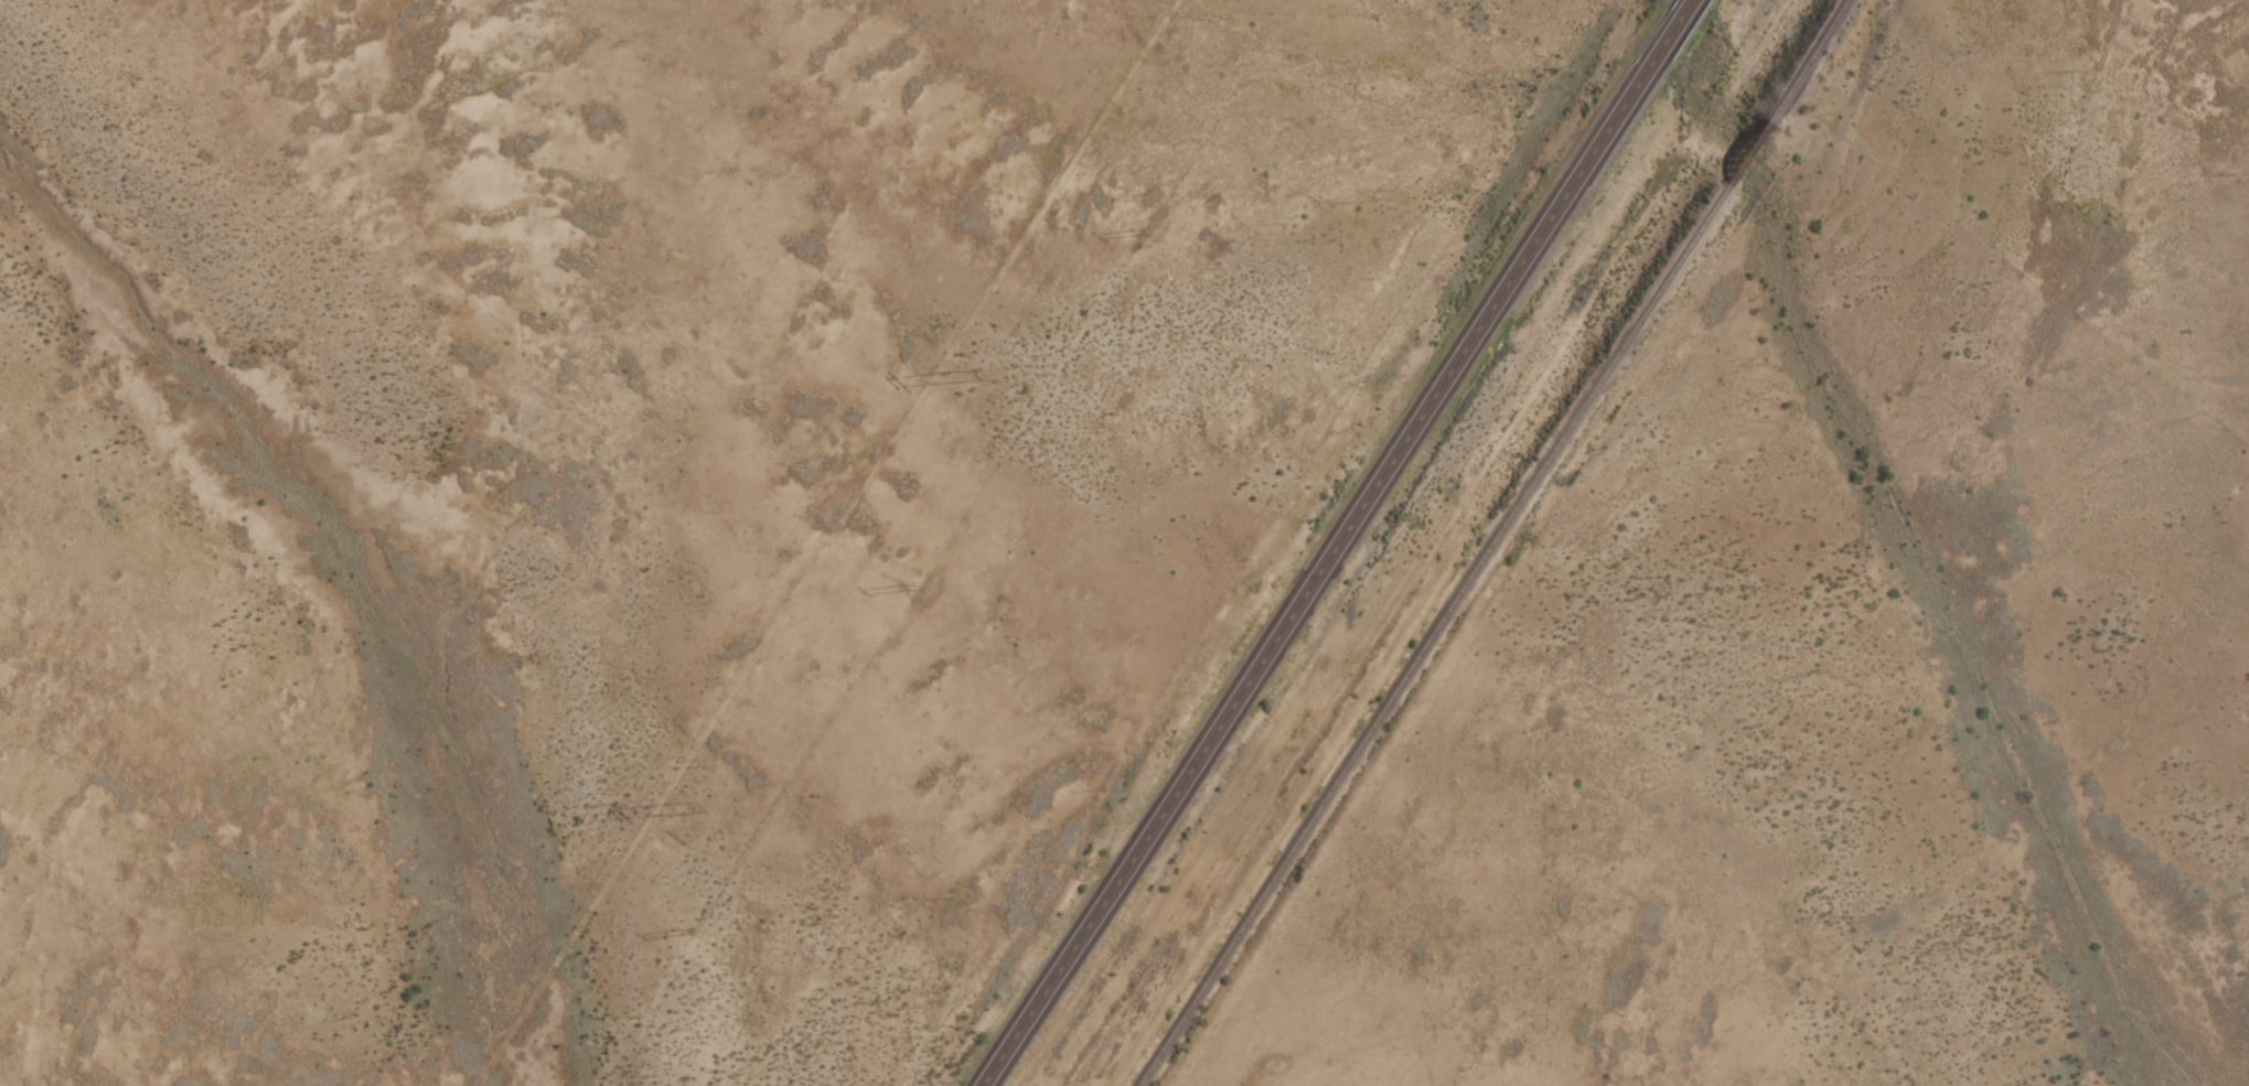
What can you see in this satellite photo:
power tower: (956, 368)
road: (1334, 542)
railway: (1490, 544)
power tower: (677, 805)

